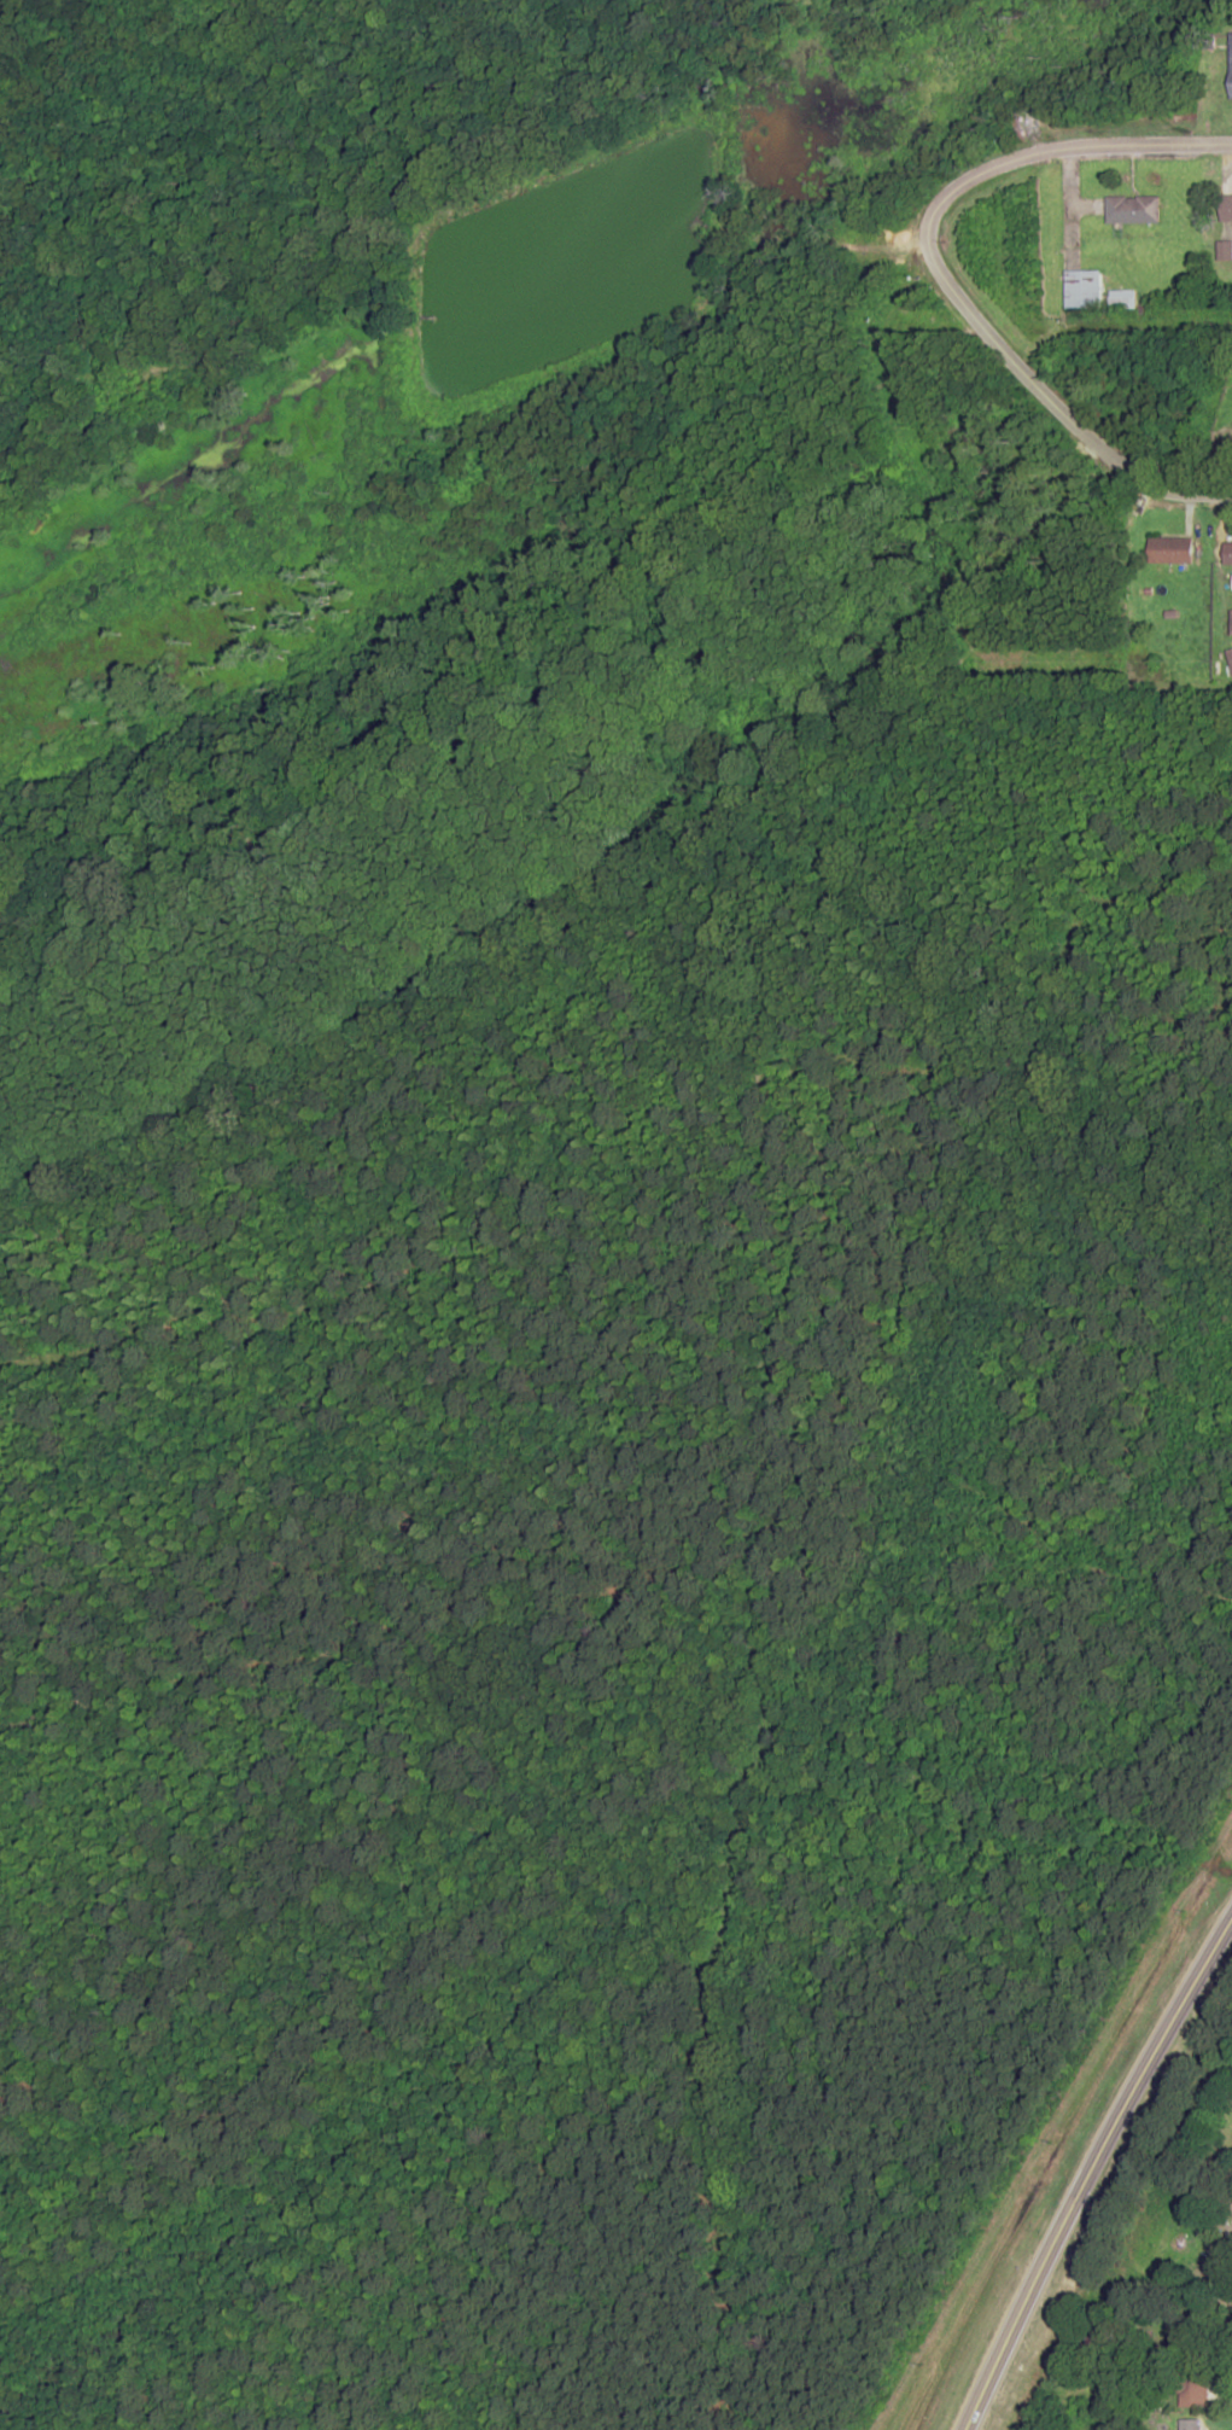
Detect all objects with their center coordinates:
building: (1230, 64)
road: (1057, 148)
building: (1226, 206)
building: (1132, 209)
road: (824, 246)
building: (1224, 250)
building: (1082, 289)
building: (1121, 299)
road: (1055, 404)
building: (1169, 550)
building: (1227, 552)
road: (1090, 2168)
road: (1196, 2191)
building: (1164, 2236)
building: (1187, 2376)
building: (1190, 2425)

